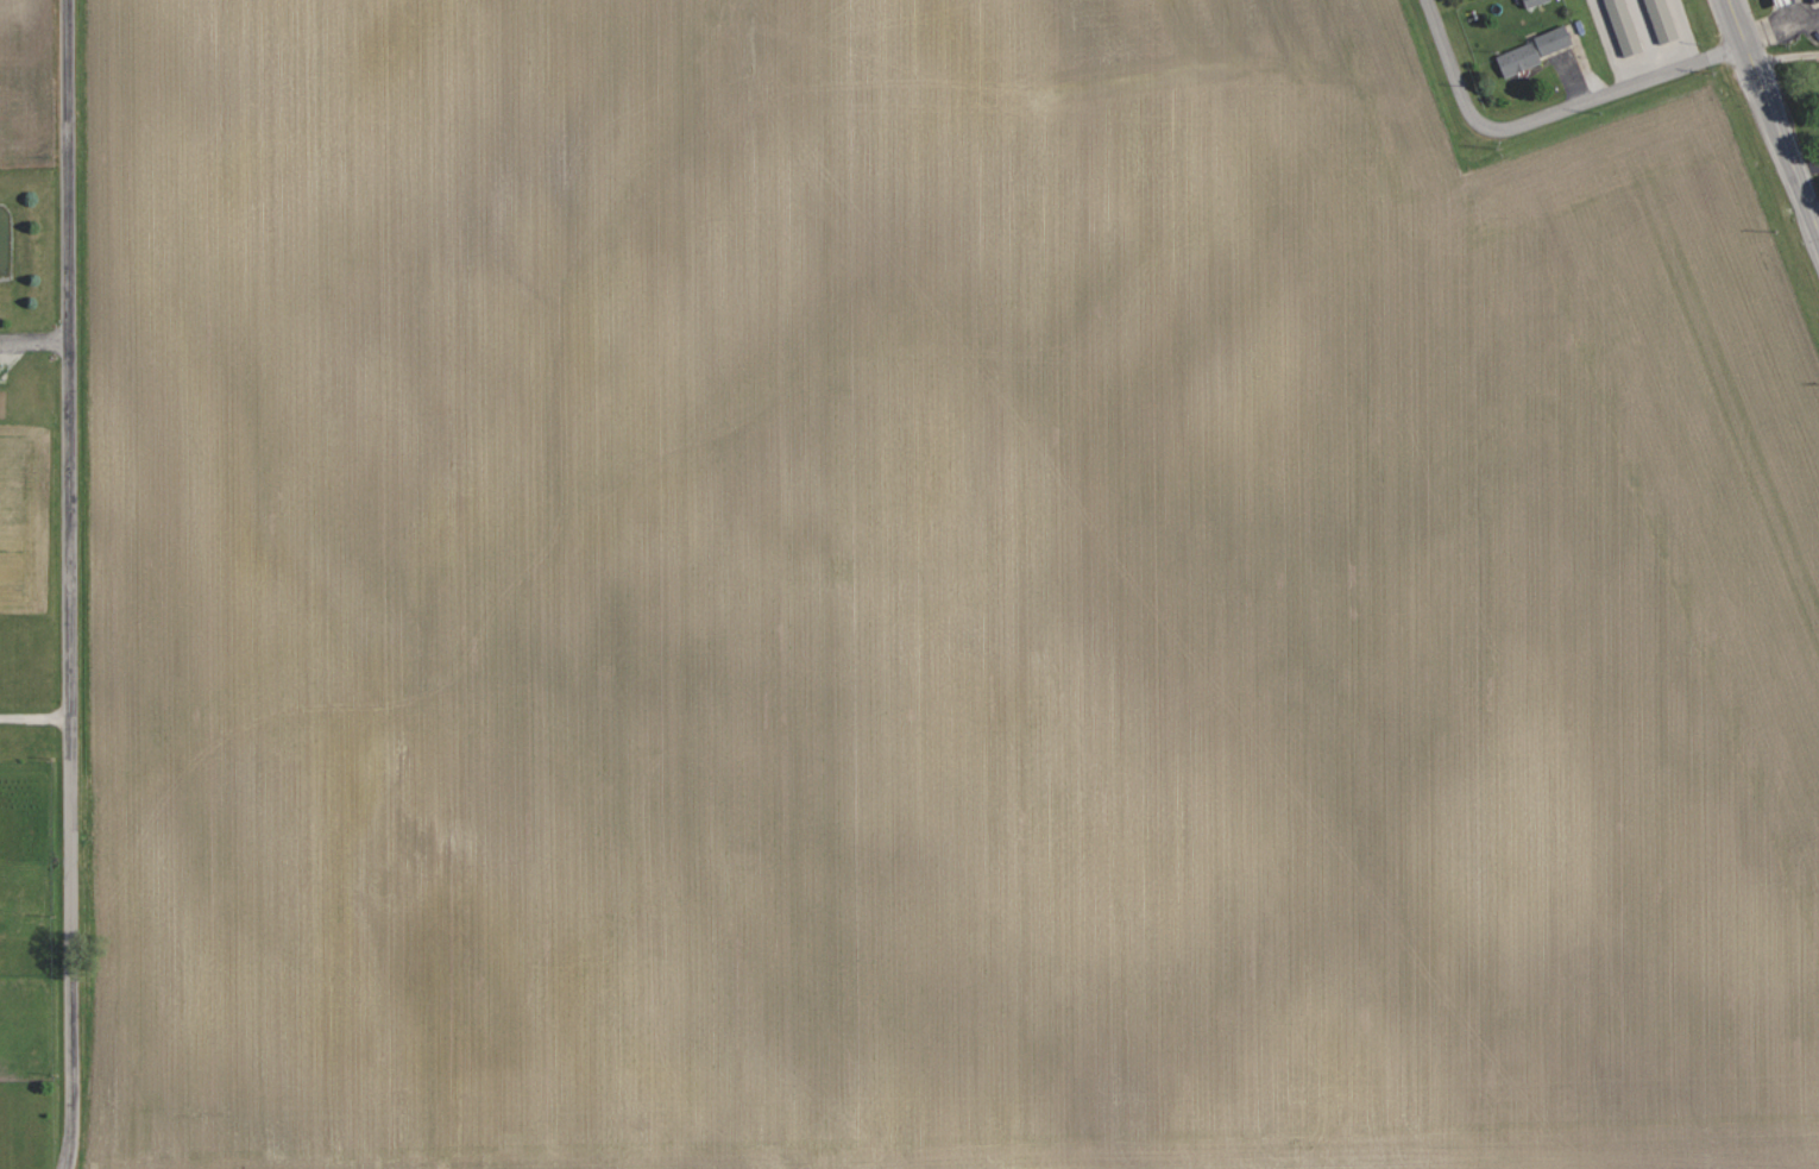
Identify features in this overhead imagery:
building: (1817, 0)
building: (1535, 2)
building: (1785, 2)
building: (1662, 20)
building: (1624, 26)
road: (1781, 27)
building: (1534, 51)
road: (1783, 57)
road: (1452, 69)
road: (1618, 88)
road: (1773, 125)
road: (37, 341)
road: (76, 584)
road: (38, 716)

